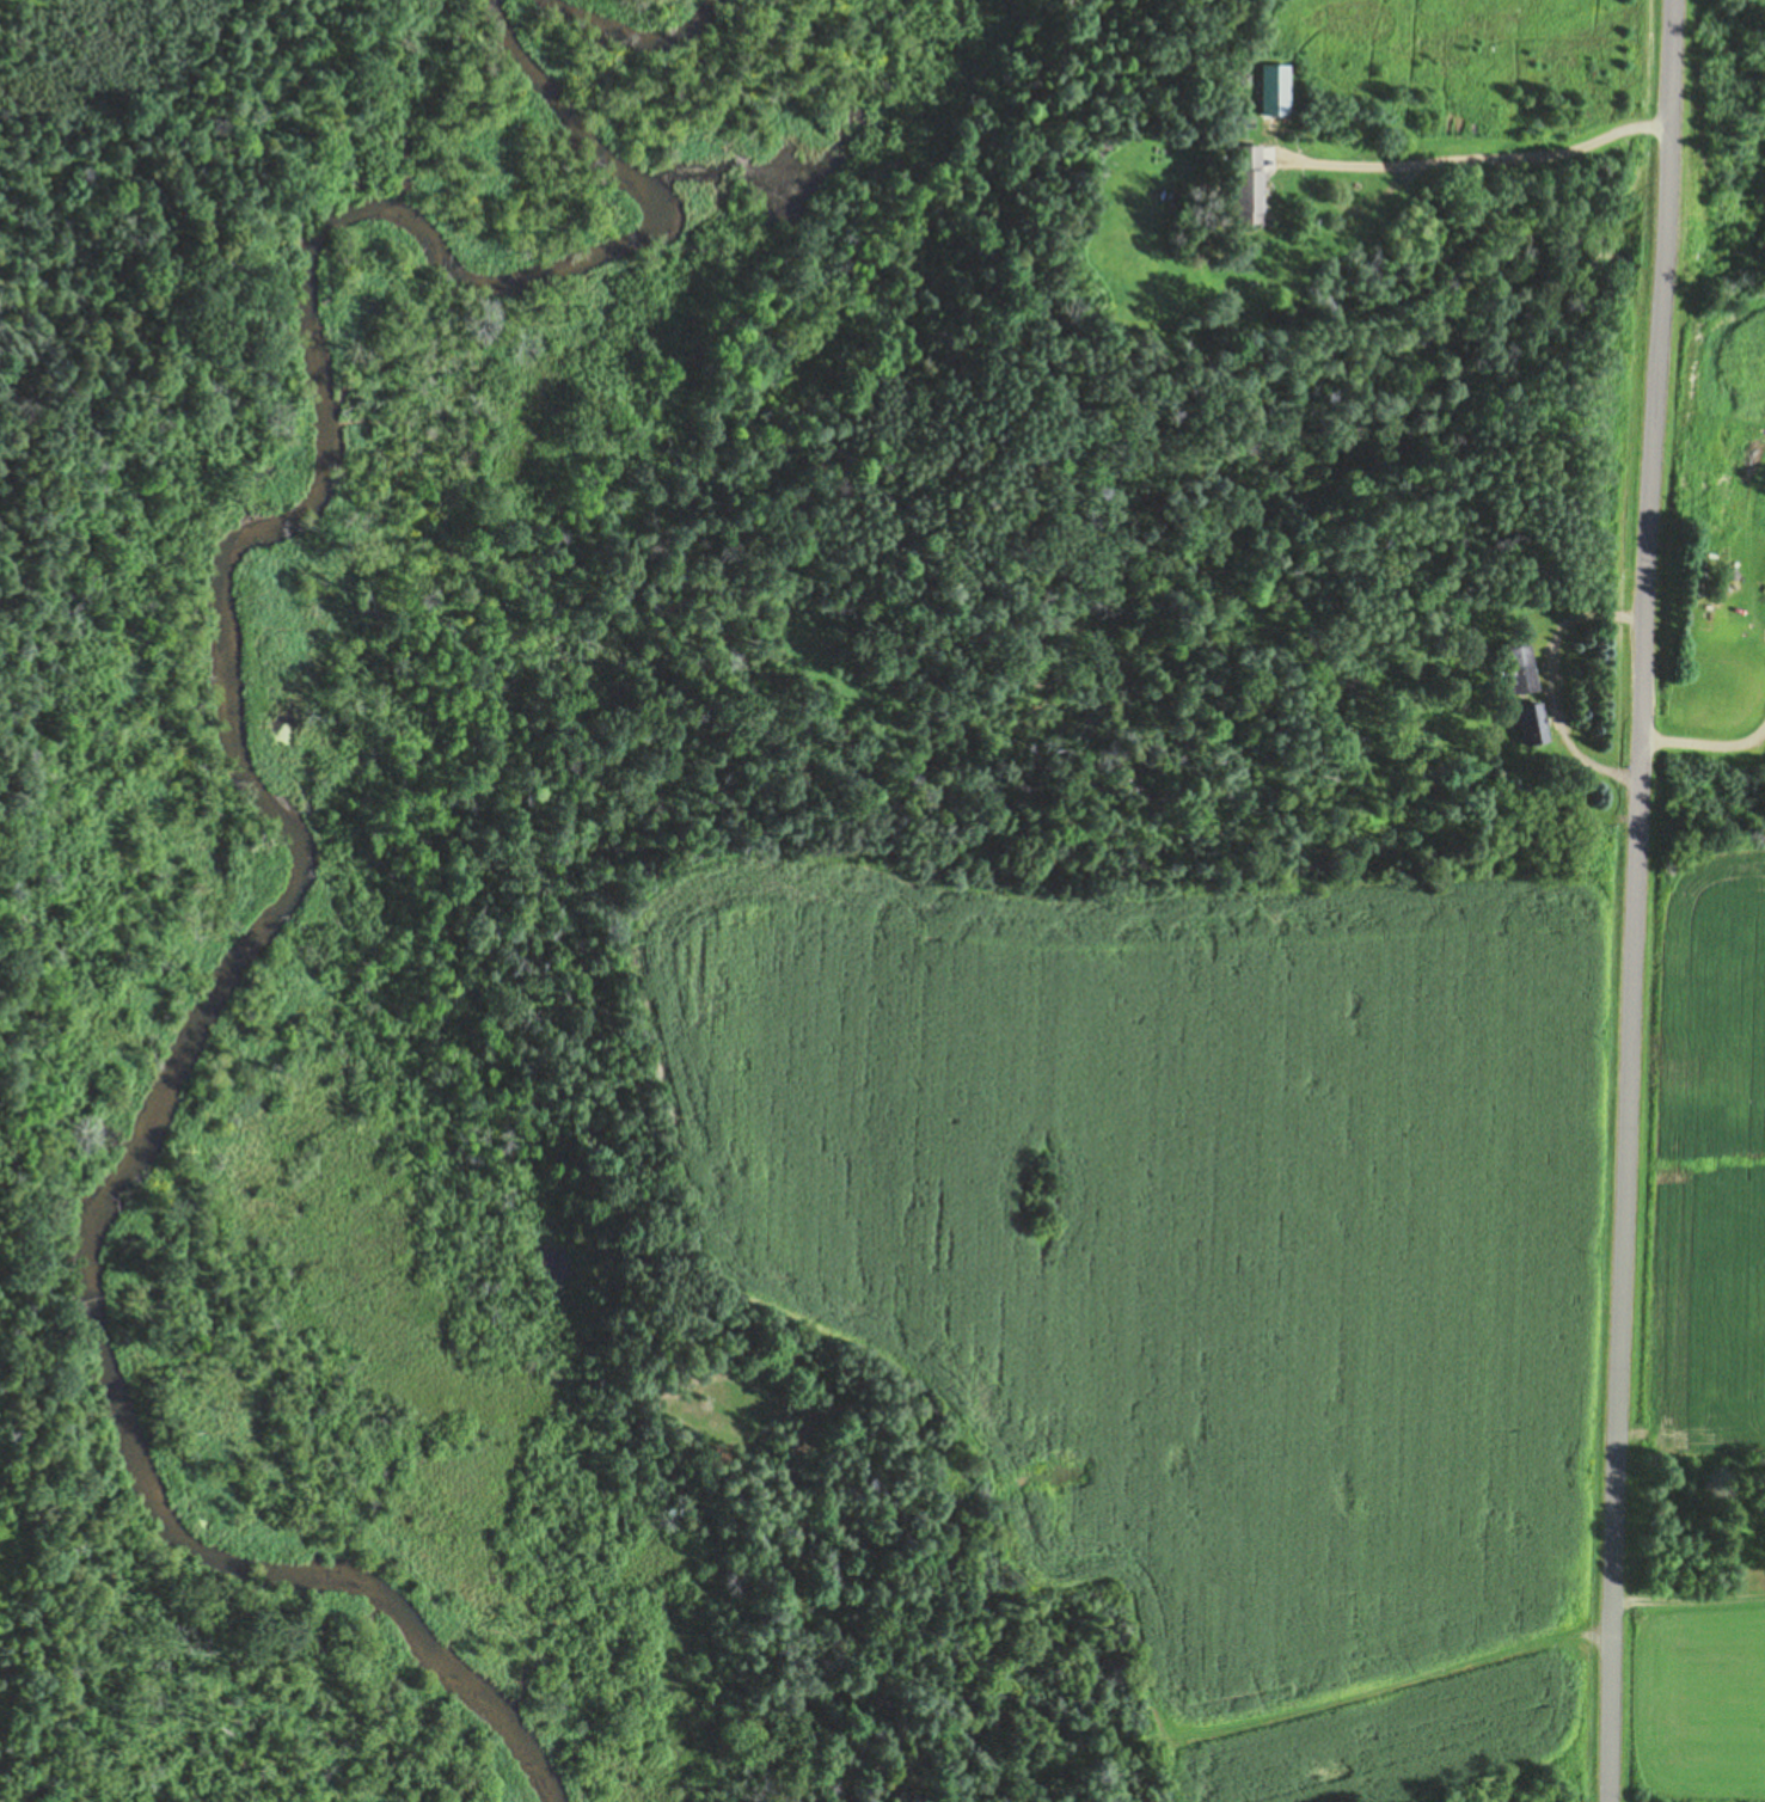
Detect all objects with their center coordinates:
road: (1485, 159)
building: (1248, 184)
building: (1520, 670)
building: (1532, 725)
road: (1653, 901)

